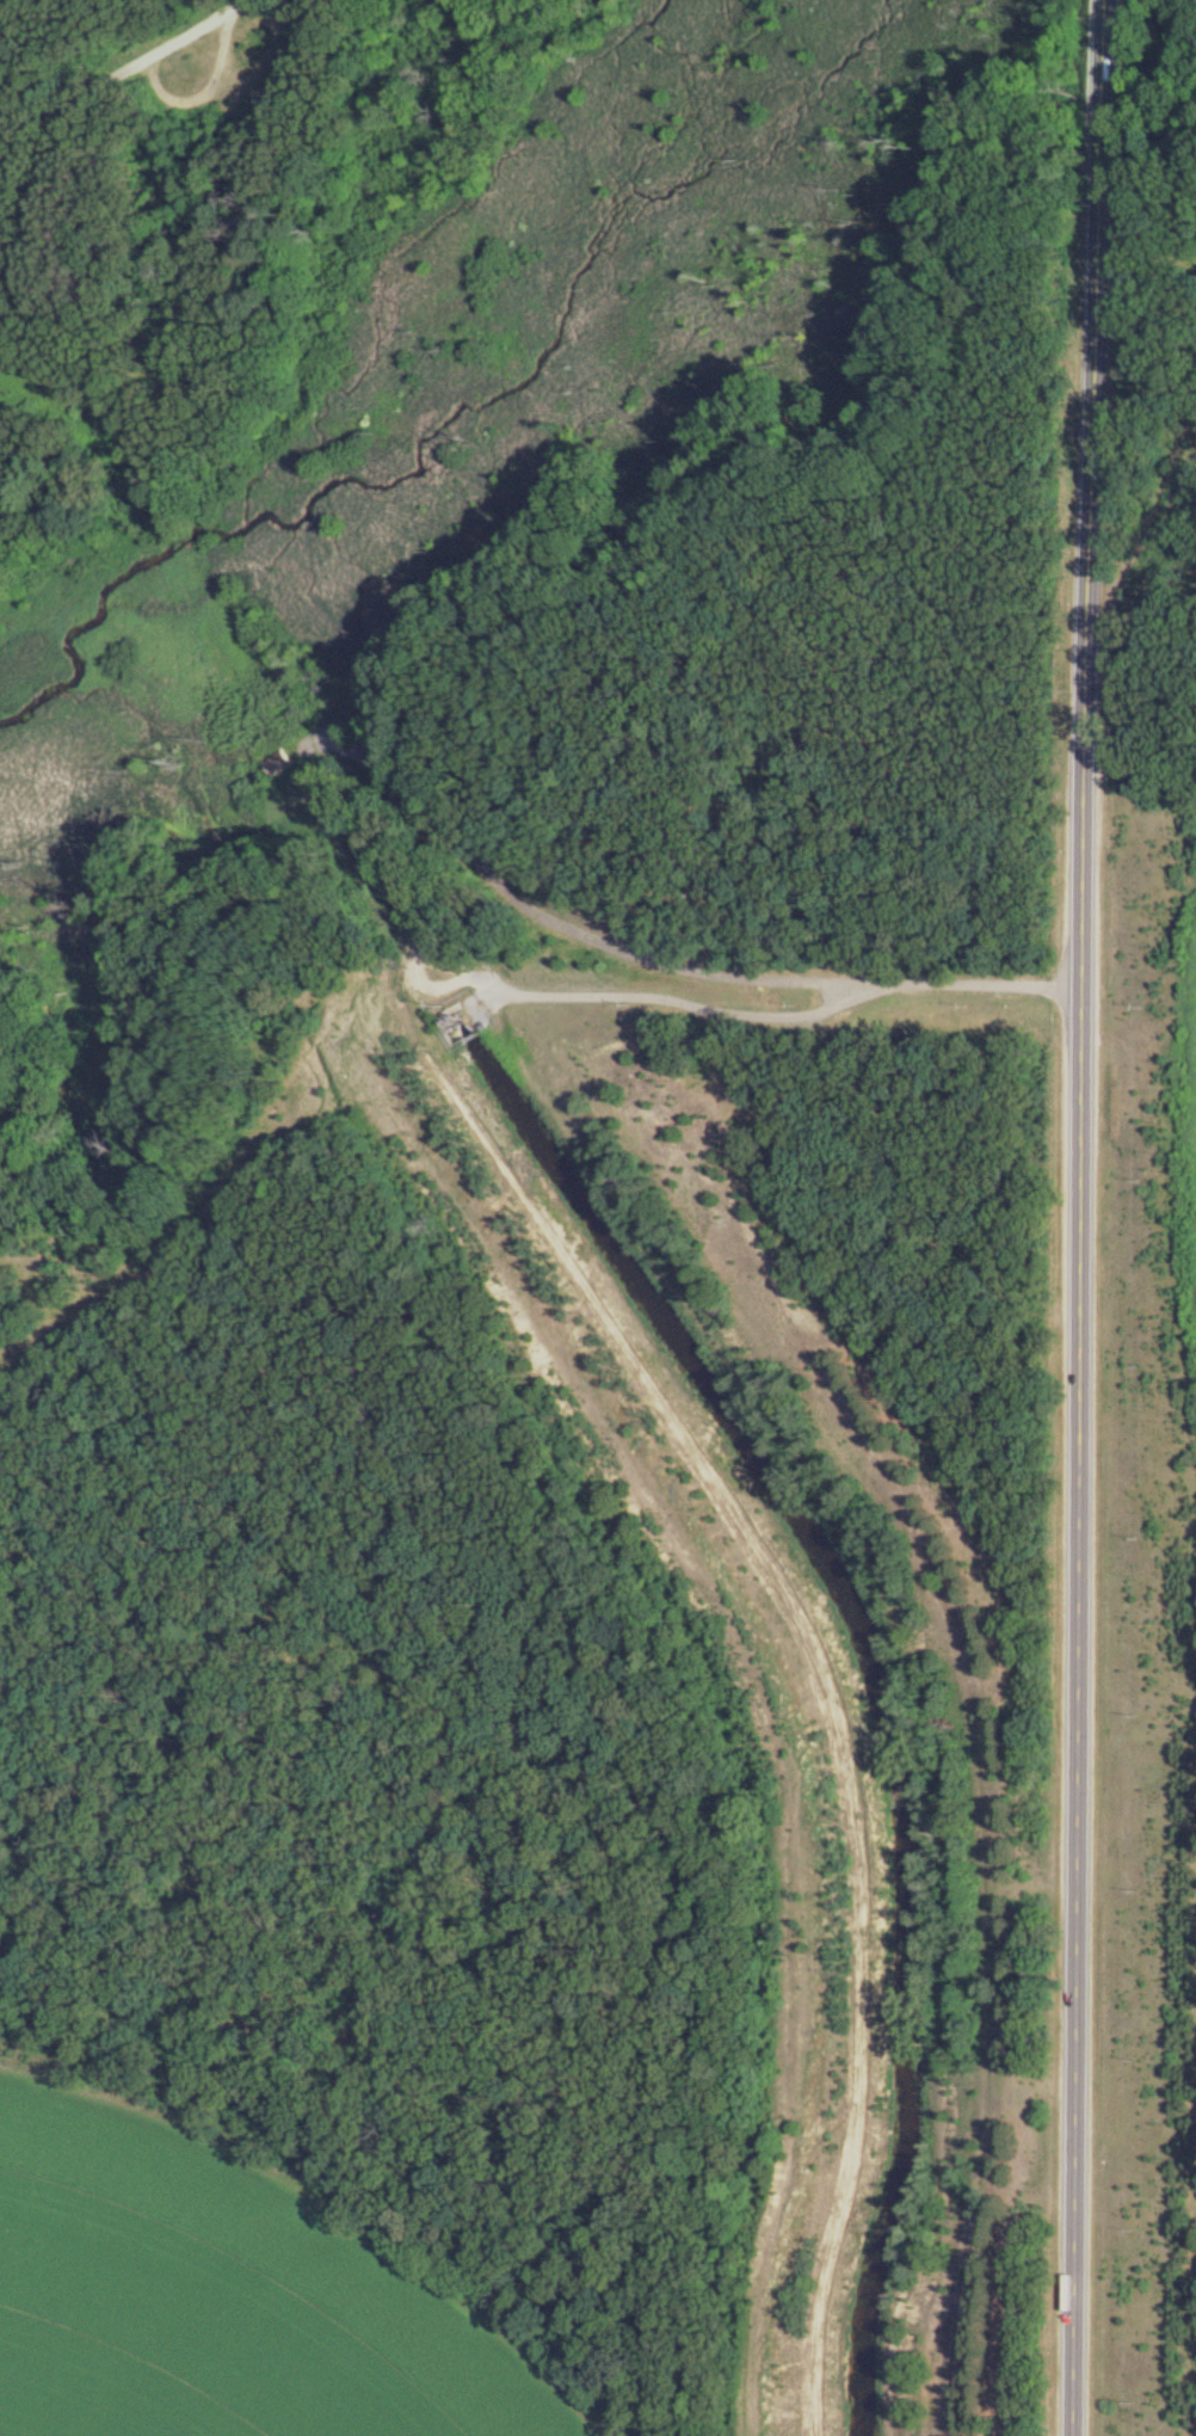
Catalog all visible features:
road: (100, 66)
building: (282, 764)
road: (556, 924)
road: (462, 984)
building: (458, 1029)
road: (1081, 1217)
wastewater plant: (1163, 1476)

